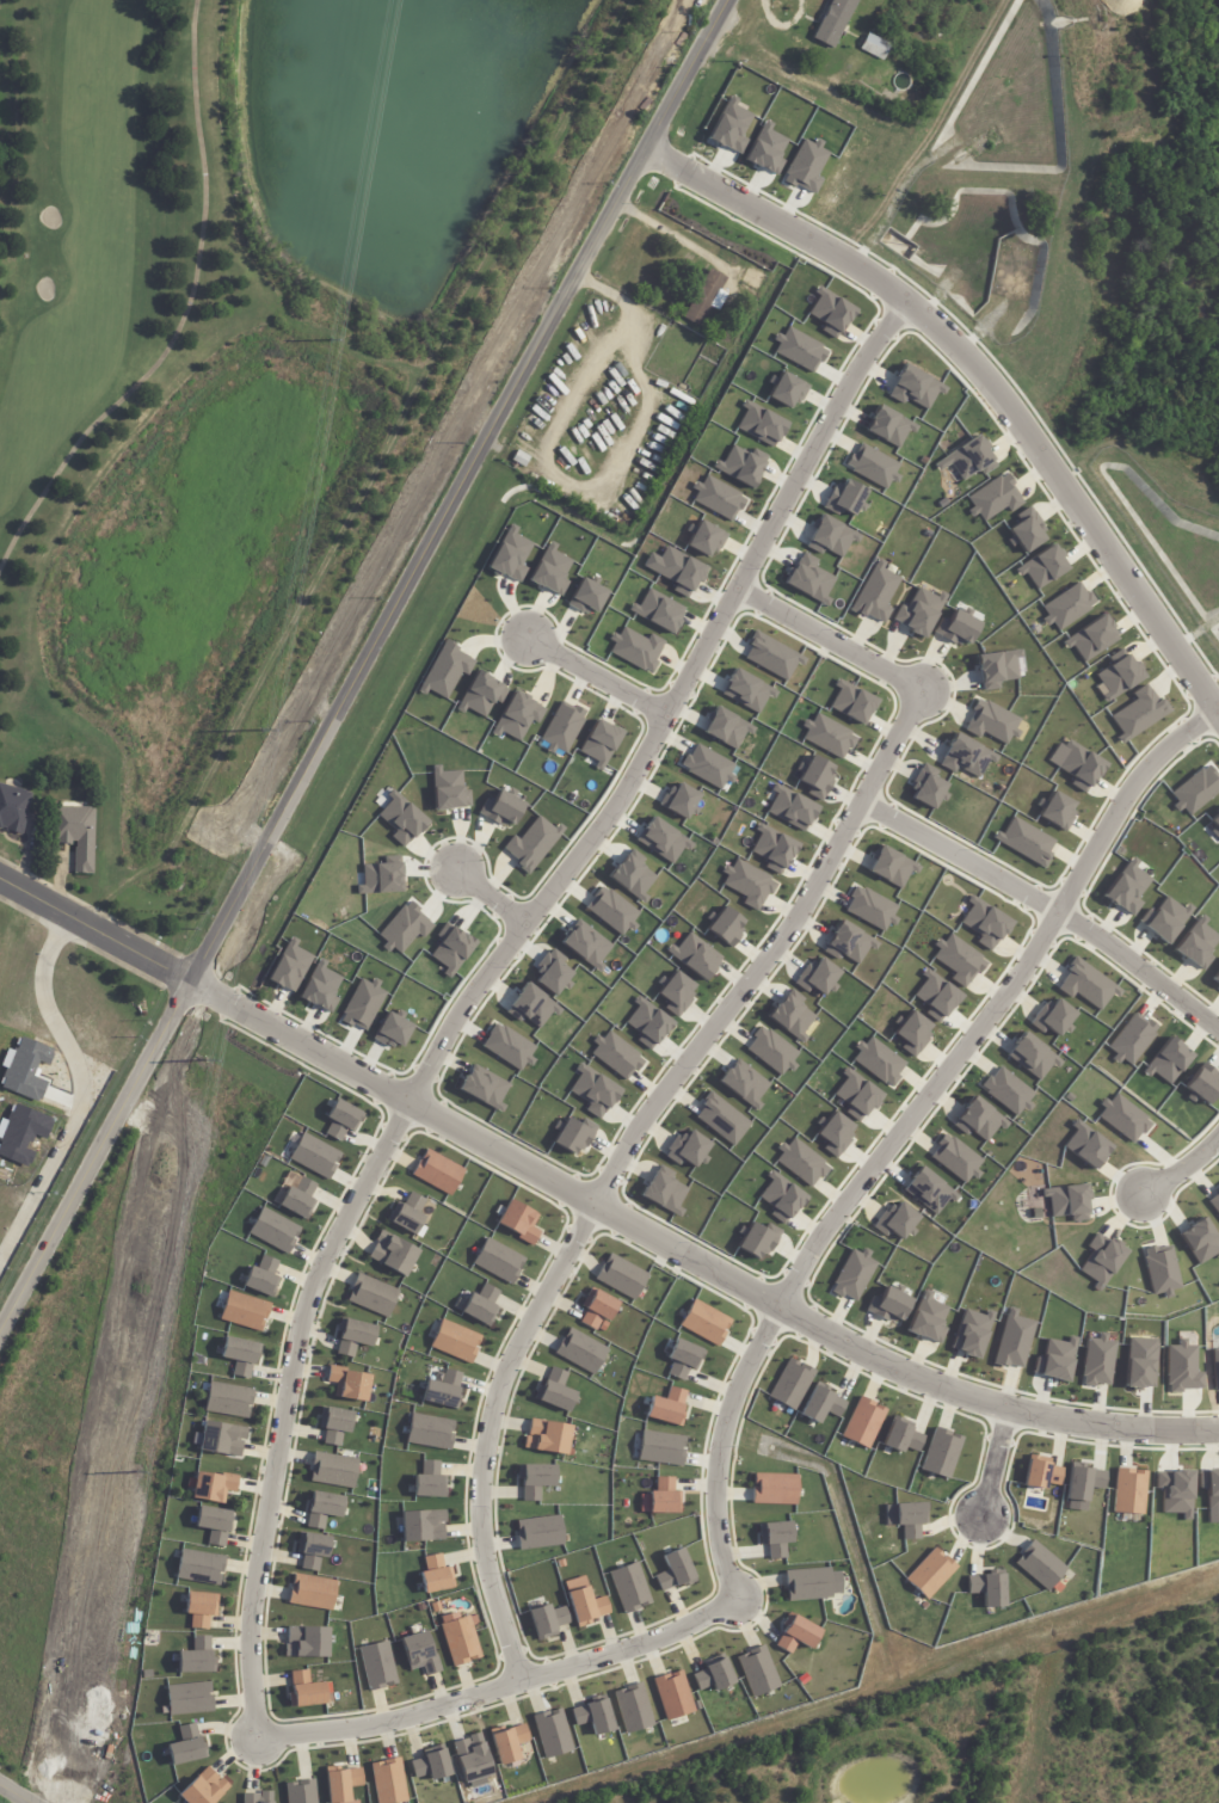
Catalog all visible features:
building: (833, 20)
road: (782, 25)
building: (873, 47)
building: (731, 127)
building: (767, 149)
building: (806, 166)
park: (1135, 233)
building: (751, 278)
building: (703, 297)
park: (92, 306)
building: (830, 312)
building: (724, 336)
building: (799, 349)
road: (981, 374)
building: (915, 387)
building: (786, 389)
building: (761, 424)
building: (889, 426)
building: (969, 459)
building: (741, 464)
building: (873, 466)
building: (718, 498)
building: (845, 498)
building: (993, 498)
building: (1026, 530)
building: (831, 536)
building: (704, 537)
building: (510, 555)
building: (1042, 566)
building: (550, 570)
building: (681, 571)
building: (808, 579)
building: (875, 593)
building: (587, 596)
building: (1066, 607)
building: (658, 610)
building: (919, 611)
building: (956, 627)
building: (1091, 639)
building: (635, 648)
building: (771, 656)
building: (997, 667)
road: (361, 669)
building: (444, 670)
road: (596, 675)
building: (1119, 677)
building: (746, 690)
building: (480, 695)
building: (851, 702)
building: (1138, 713)
building: (516, 716)
building: (992, 722)
building: (561, 727)
building: (726, 727)
building: (827, 736)
building: (599, 743)
building: (966, 756)
building: (1076, 763)
building: (708, 767)
building: (815, 776)
building: (928, 787)
building: (448, 789)
building: (679, 800)
building: (790, 807)
building: (501, 808)
building: (14, 810)
building: (1055, 811)
building: (401, 818)
building: (1215, 821)
building: (79, 835)
building: (661, 841)
building: (1026, 842)
building: (532, 843)
building: (772, 848)
building: (891, 867)
building: (632, 878)
building: (380, 879)
building: (747, 882)
building: (1127, 887)
road: (490, 897)
road: (1046, 904)
building: (870, 909)
building: (612, 910)
building: (1165, 918)
building: (984, 922)
building: (725, 925)
building: (404, 928)
building: (848, 942)
building: (585, 943)
building: (1196, 944)
building: (452, 949)
building: (694, 956)
building: (958, 959)
building: (289, 966)
building: (553, 973)
building: (1215, 977)
building: (817, 978)
road: (481, 983)
building: (1086, 984)
building: (320, 987)
building: (676, 993)
building: (935, 996)
building: (362, 1003)
building: (531, 1005)
building: (792, 1015)
building: (1053, 1017)
building: (647, 1022)
building: (392, 1029)
building: (911, 1032)
building: (1132, 1040)
building: (509, 1046)
building: (771, 1051)
building: (615, 1054)
building: (1032, 1056)
building: (878, 1060)
building: (1168, 1062)
road: (675, 1071)
building: (744, 1083)
building: (1202, 1084)
road: (80, 1087)
building: (484, 1087)
building: (593, 1091)
building: (1008, 1091)
building: (857, 1095)
building: (1122, 1118)
building: (341, 1119)
building: (721, 1119)
building: (979, 1120)
road: (901, 1128)
building: (833, 1133)
building: (574, 1134)
building: (1085, 1145)
building: (687, 1149)
building: (314, 1156)
building: (956, 1158)
building: (800, 1162)
road: (1182, 1168)
building: (437, 1171)
building: (664, 1190)
building: (928, 1190)
building: (780, 1196)
building: (298, 1198)
building: (1067, 1201)
building: (1214, 1202)
road: (592, 1204)
building: (407, 1213)
building: (518, 1222)
building: (894, 1222)
building: (273, 1230)
building: (756, 1238)
building: (1200, 1241)
building: (393, 1254)
building: (498, 1260)
building: (1102, 1261)
building: (1162, 1270)
building: (852, 1274)
building: (621, 1276)
building: (263, 1278)
building: (371, 1296)
building: (481, 1305)
building: (888, 1305)
building: (596, 1309)
building: (244, 1311)
building: (926, 1318)
building: (704, 1322)
building: (971, 1333)
building: (352, 1335)
building: (1012, 1340)
building: (455, 1341)
building: (580, 1352)
building: (240, 1355)
building: (683, 1359)
building: (1055, 1359)
building: (1097, 1360)
building: (1140, 1362)
building: (1214, 1367)
building: (1182, 1368)
building: (347, 1384)
building: (790, 1384)
building: (442, 1389)
building: (554, 1391)
building: (228, 1401)
building: (821, 1403)
building: (667, 1407)
building: (863, 1422)
building: (333, 1424)
building: (429, 1432)
building: (901, 1435)
building: (548, 1436)
building: (220, 1439)
building: (661, 1447)
building: (941, 1453)
road: (993, 1460)
building: (332, 1470)
building: (1040, 1472)
building: (535, 1479)
building: (429, 1481)
building: (1082, 1482)
building: (211, 1485)
building: (774, 1489)
building: (1127, 1491)
building: (1175, 1493)
building: (1211, 1493)
building: (660, 1497)
building: (322, 1508)
building: (910, 1518)
building: (214, 1524)
building: (421, 1526)
building: (538, 1532)
building: (775, 1538)
building: (312, 1550)
building: (1039, 1564)
building: (199, 1567)
building: (675, 1570)
building: (929, 1573)
building: (435, 1574)
building: (807, 1583)
building: (629, 1587)
building: (989, 1588)
building: (312, 1592)
building: (584, 1602)
building: (199, 1608)
building: (546, 1620)
building: (795, 1633)
building: (460, 1641)
building: (306, 1642)
building: (419, 1653)
building: (196, 1657)
building: (376, 1666)
building: (758, 1670)
building: (714, 1674)
building: (307, 1690)
road: (500, 1690)
building: (672, 1696)
building: (189, 1698)
building: (633, 1709)
building: (593, 1715)
building: (552, 1733)
building: (507, 1741)
building: (186, 1747)
building: (470, 1758)
building: (430, 1764)
building: (388, 1782)
building: (340, 1783)
building: (203, 1787)
building: (300, 1791)
road: (13, 1795)
building: (256, 1797)
building: (592, 1801)

